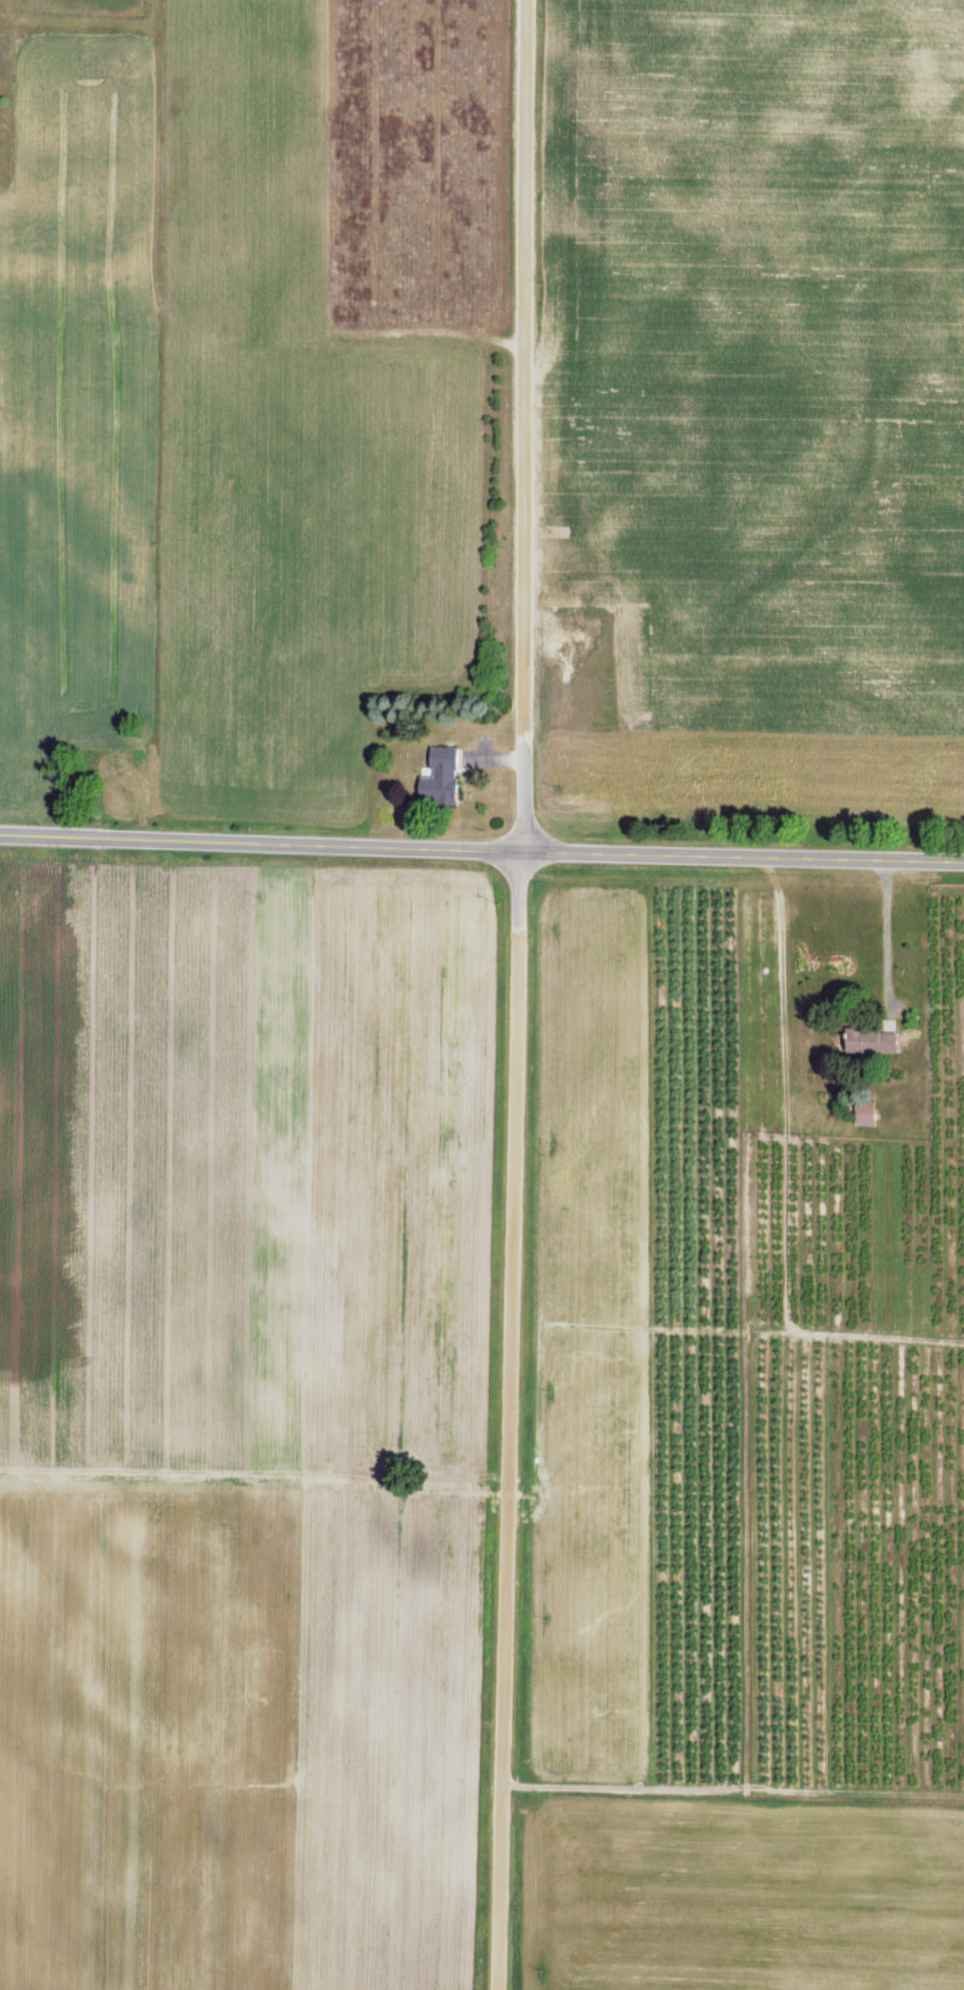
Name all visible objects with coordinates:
road: (522, 426)
building: (440, 778)
road: (481, 851)
building: (869, 1040)
building: (864, 1113)
road: (509, 1421)

